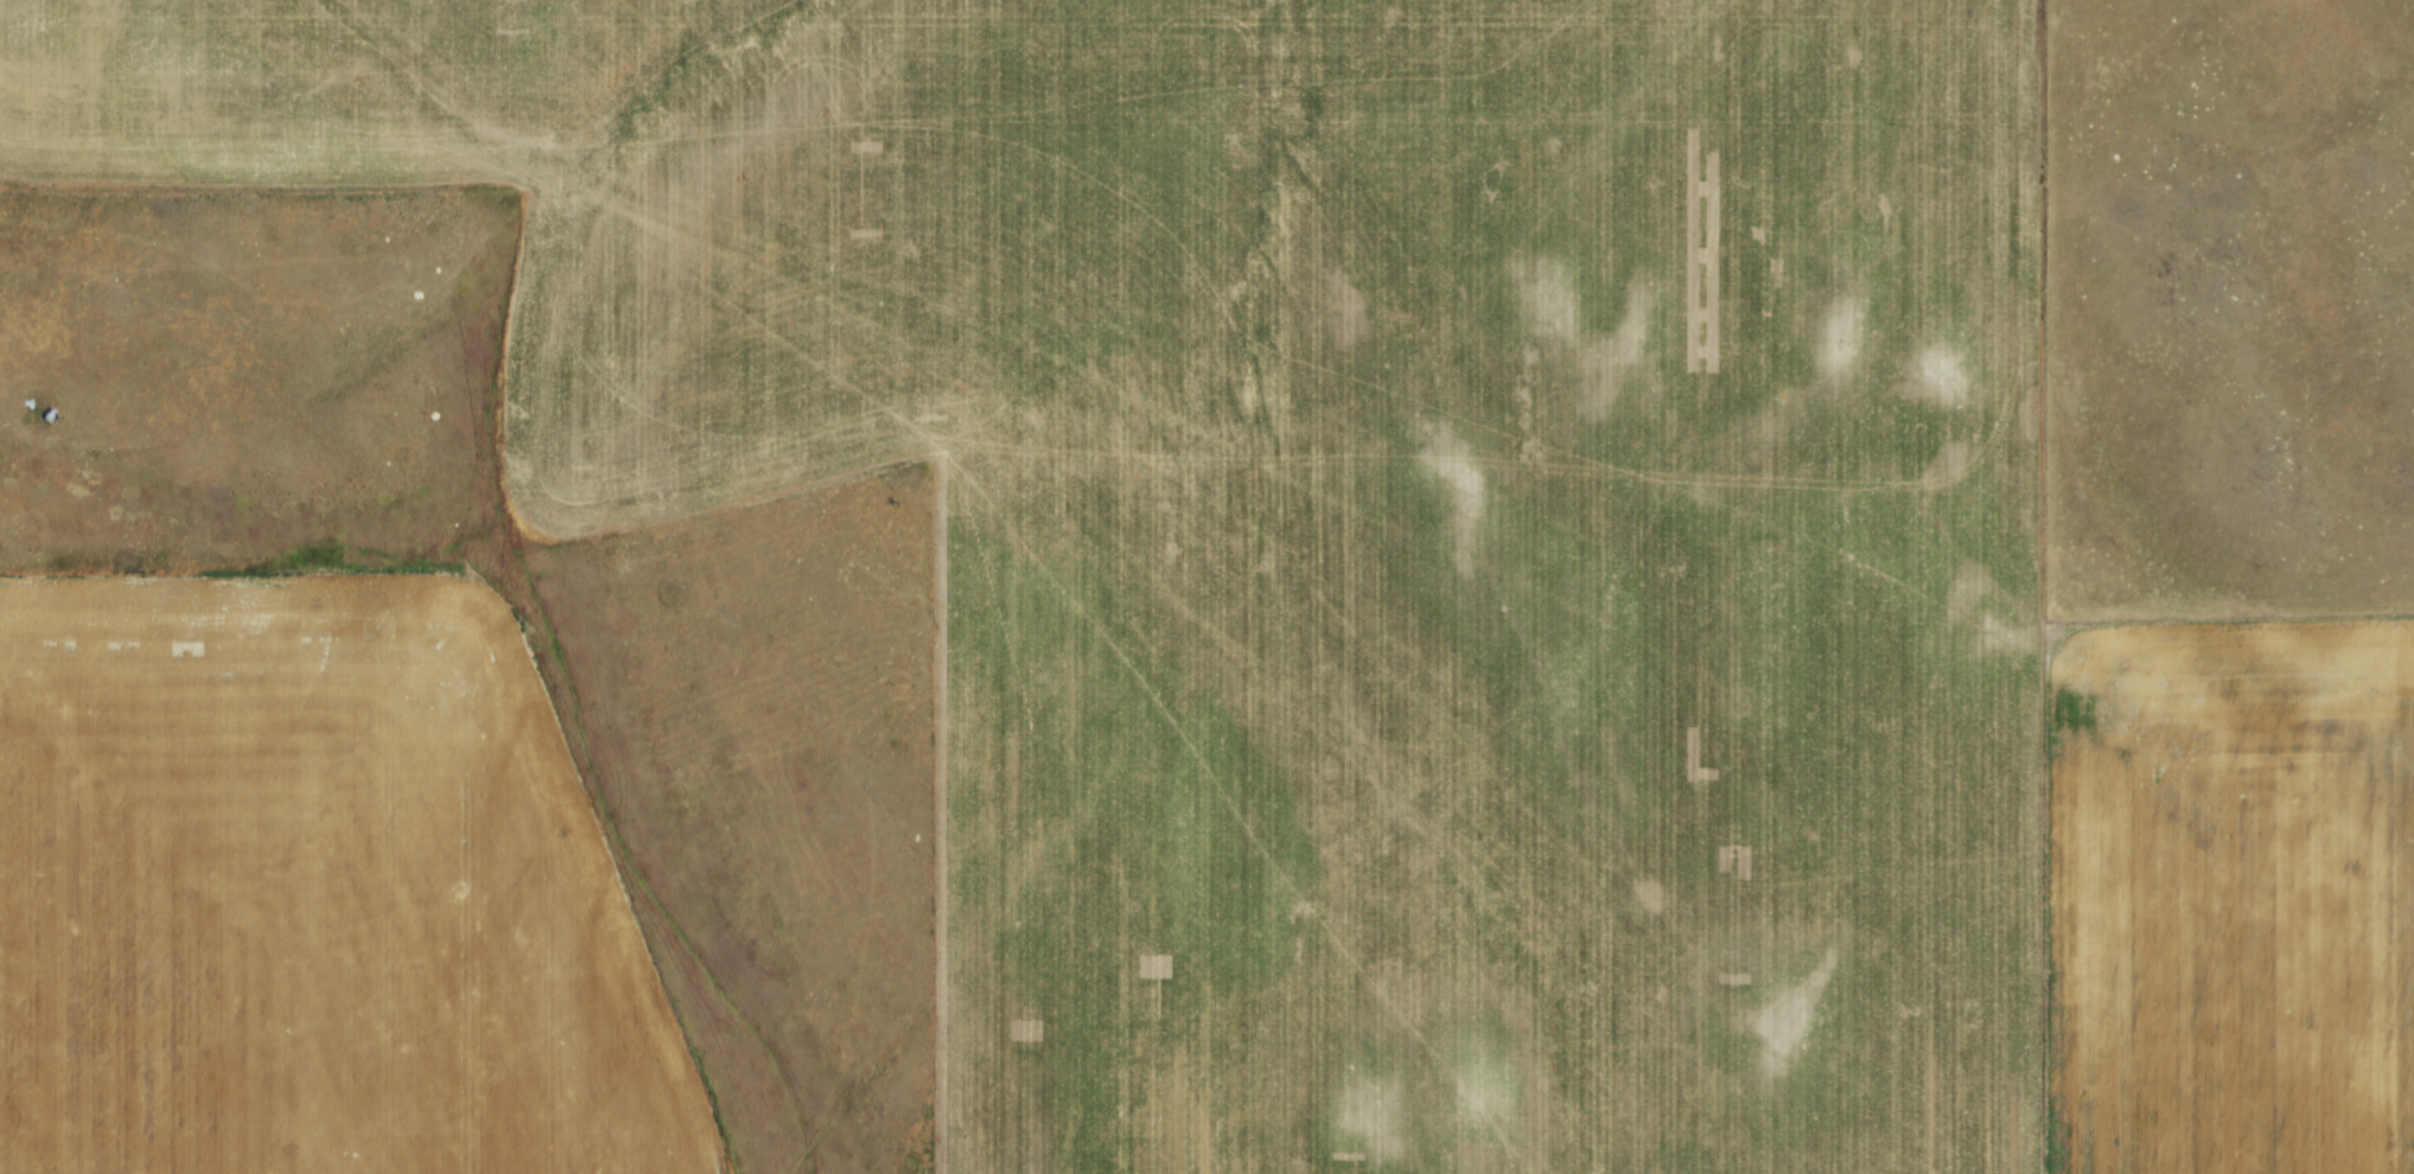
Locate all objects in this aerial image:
crop: (1407, 559)
crop: (306, 894)

